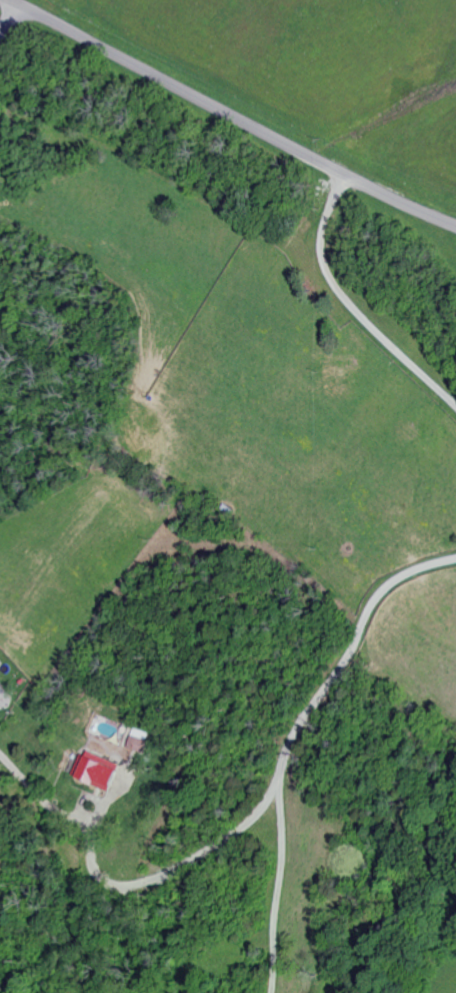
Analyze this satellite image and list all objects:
road: (12, 29)
road: (233, 116)
road: (353, 306)
building: (140, 741)
road: (288, 763)
building: (101, 771)

